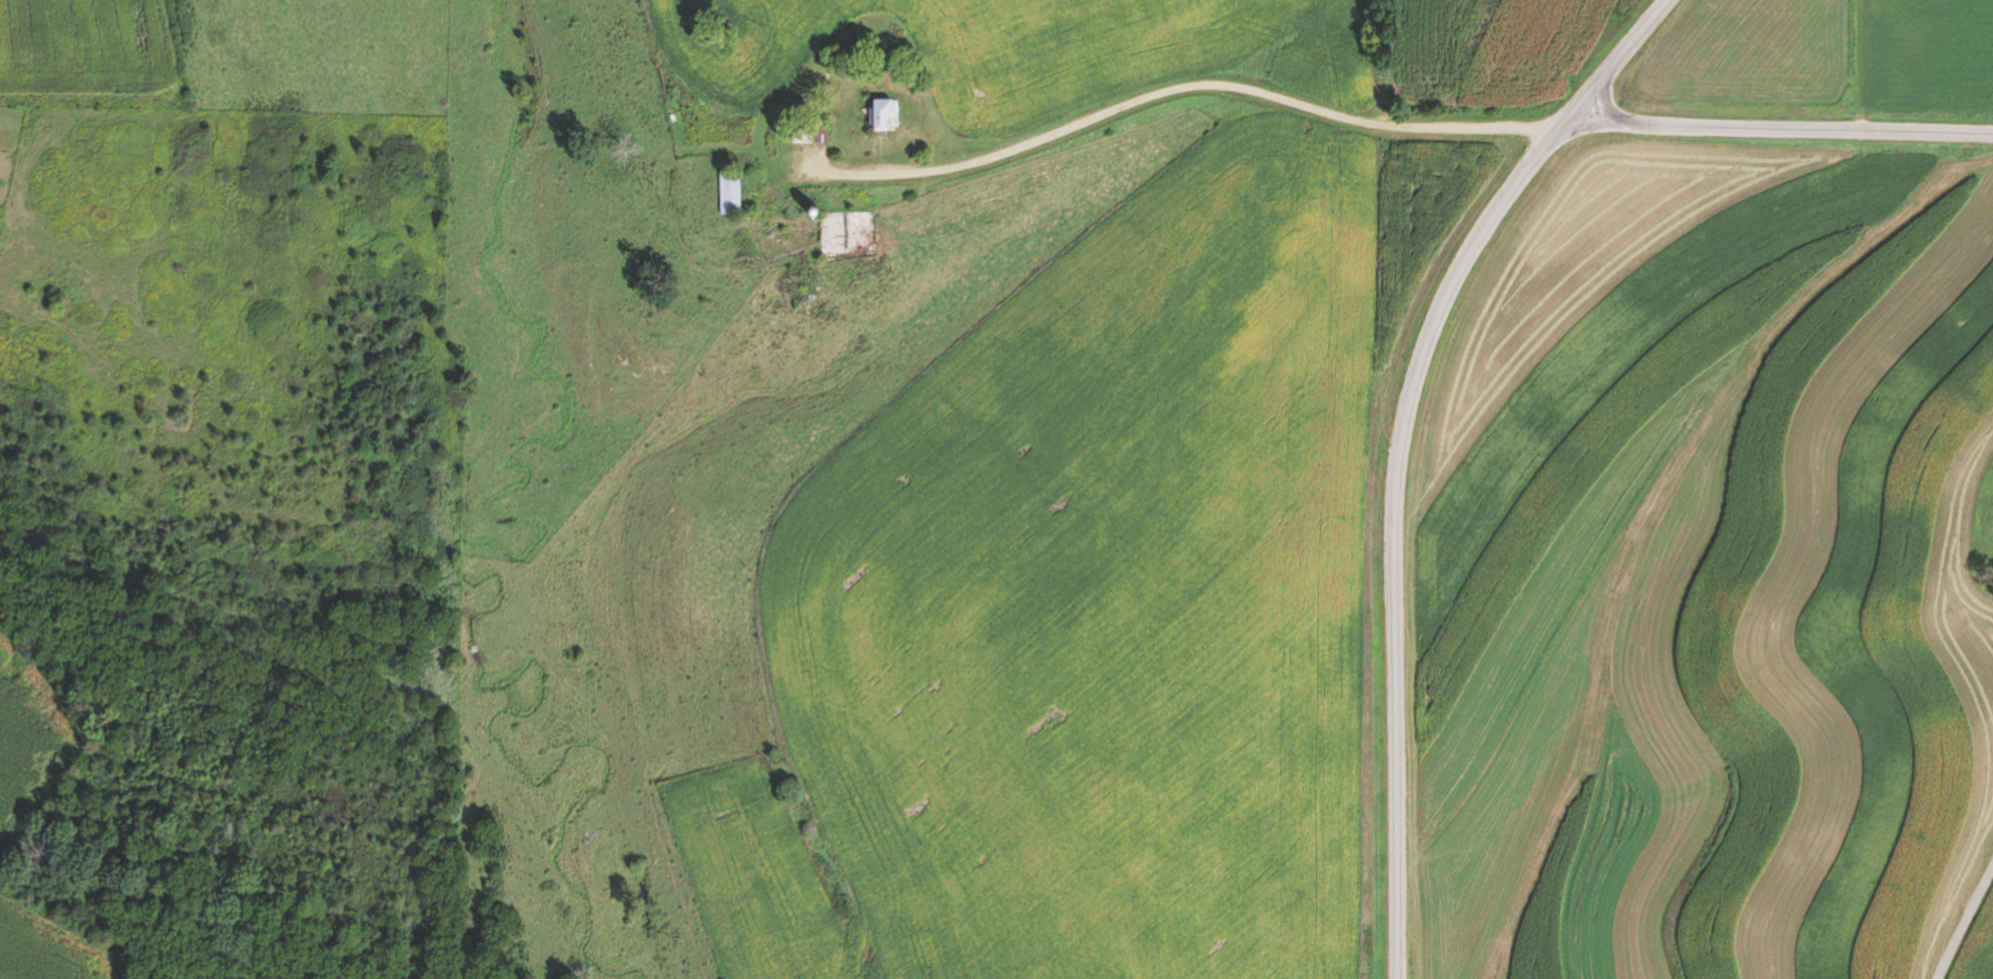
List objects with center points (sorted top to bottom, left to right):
road: (1191, 96)
building: (881, 114)
road: (1780, 134)
building: (729, 192)
road: (1504, 215)
road: (1398, 724)
road: (496, 738)
road: (1963, 917)

